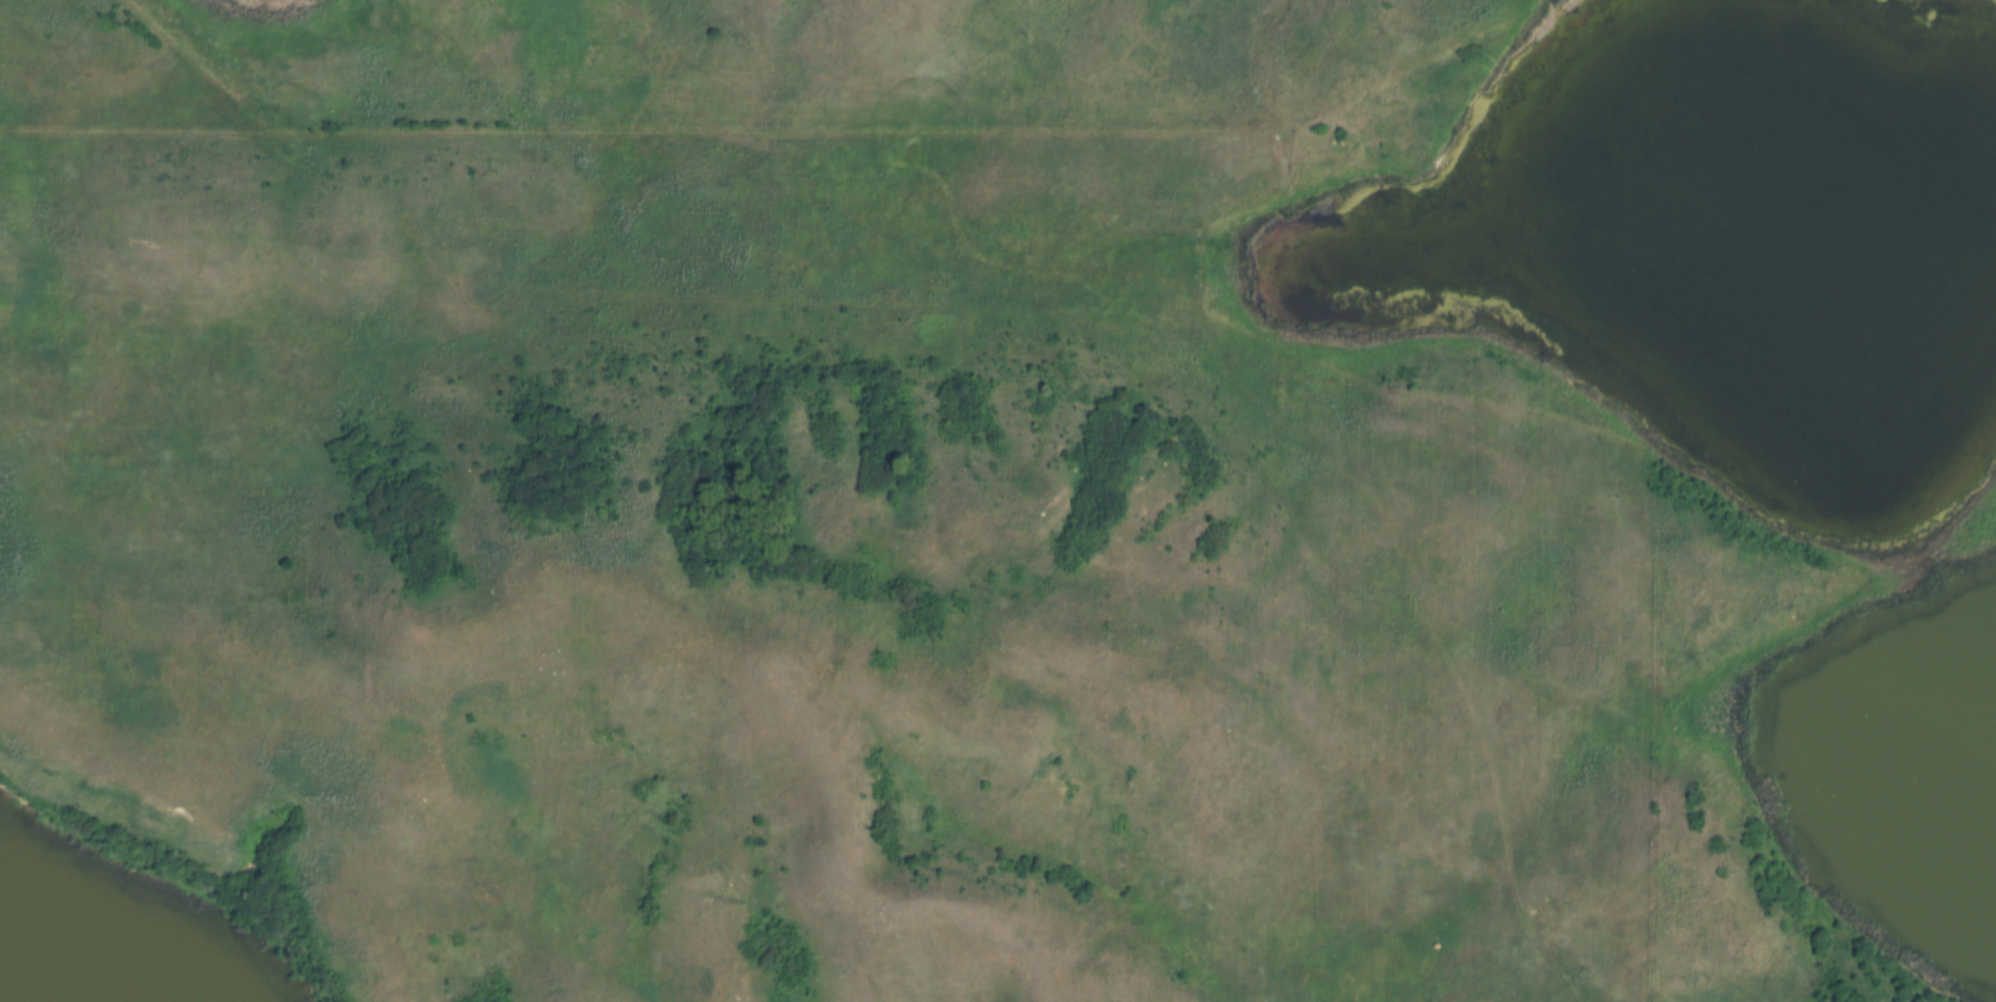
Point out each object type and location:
road: (1662, 844)

